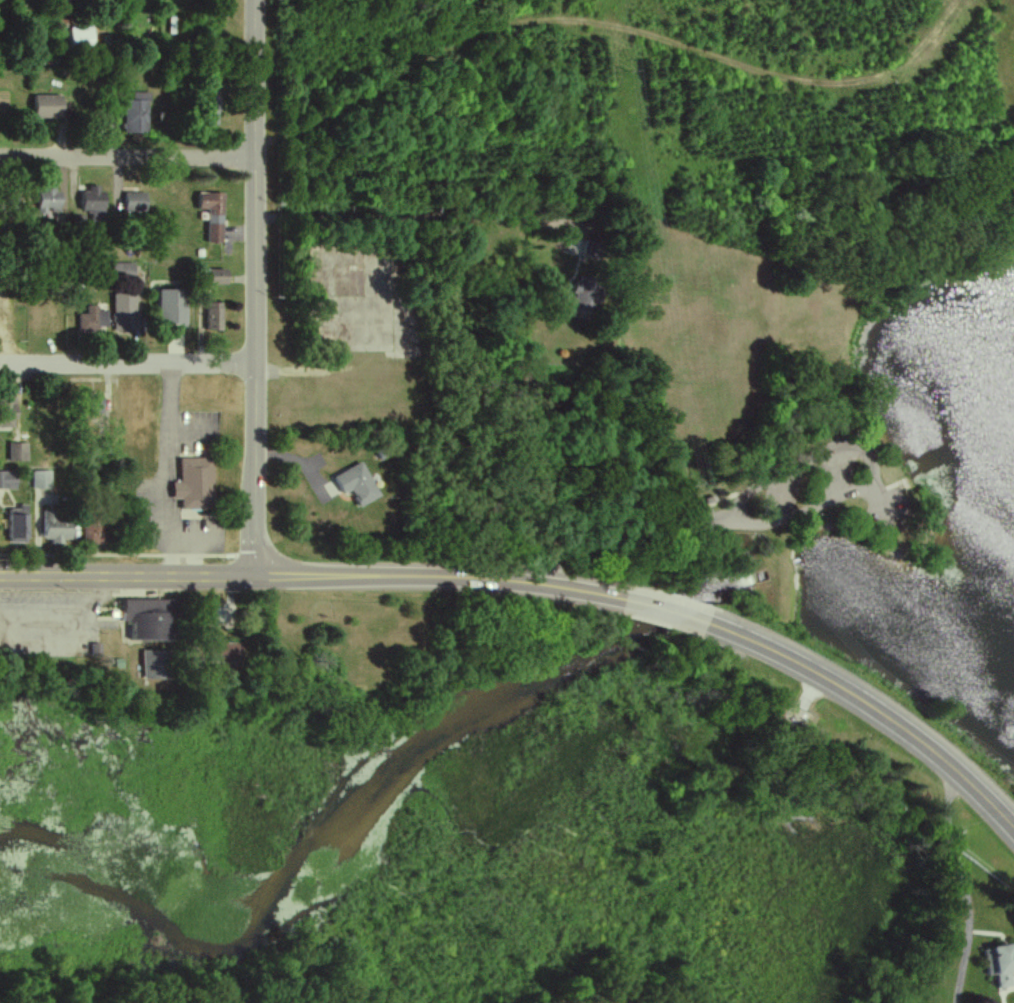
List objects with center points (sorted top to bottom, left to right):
building: (82, 38)
building: (50, 107)
building: (212, 111)
building: (136, 114)
road: (128, 157)
building: (49, 201)
building: (93, 202)
building: (136, 202)
building: (213, 215)
road: (414, 217)
building: (593, 250)
building: (124, 270)
building: (219, 277)
road: (255, 286)
building: (588, 293)
building: (173, 307)
building: (125, 313)
building: (214, 317)
building: (92, 319)
road: (128, 367)
building: (95, 405)
building: (8, 411)
building: (19, 452)
road: (166, 470)
building: (42, 480)
building: (8, 481)
building: (196, 484)
building: (357, 484)
road: (788, 516)
building: (19, 525)
building: (57, 527)
park: (748, 527)
building: (95, 534)
road: (195, 543)
road: (179, 556)
road: (125, 573)
road: (435, 575)
parking lot: (46, 607)
road: (667, 610)
road: (39, 616)
building: (152, 618)
park: (307, 629)
road: (78, 644)
building: (156, 665)
road: (875, 711)
park: (583, 864)
road: (954, 885)
building: (1000, 964)

